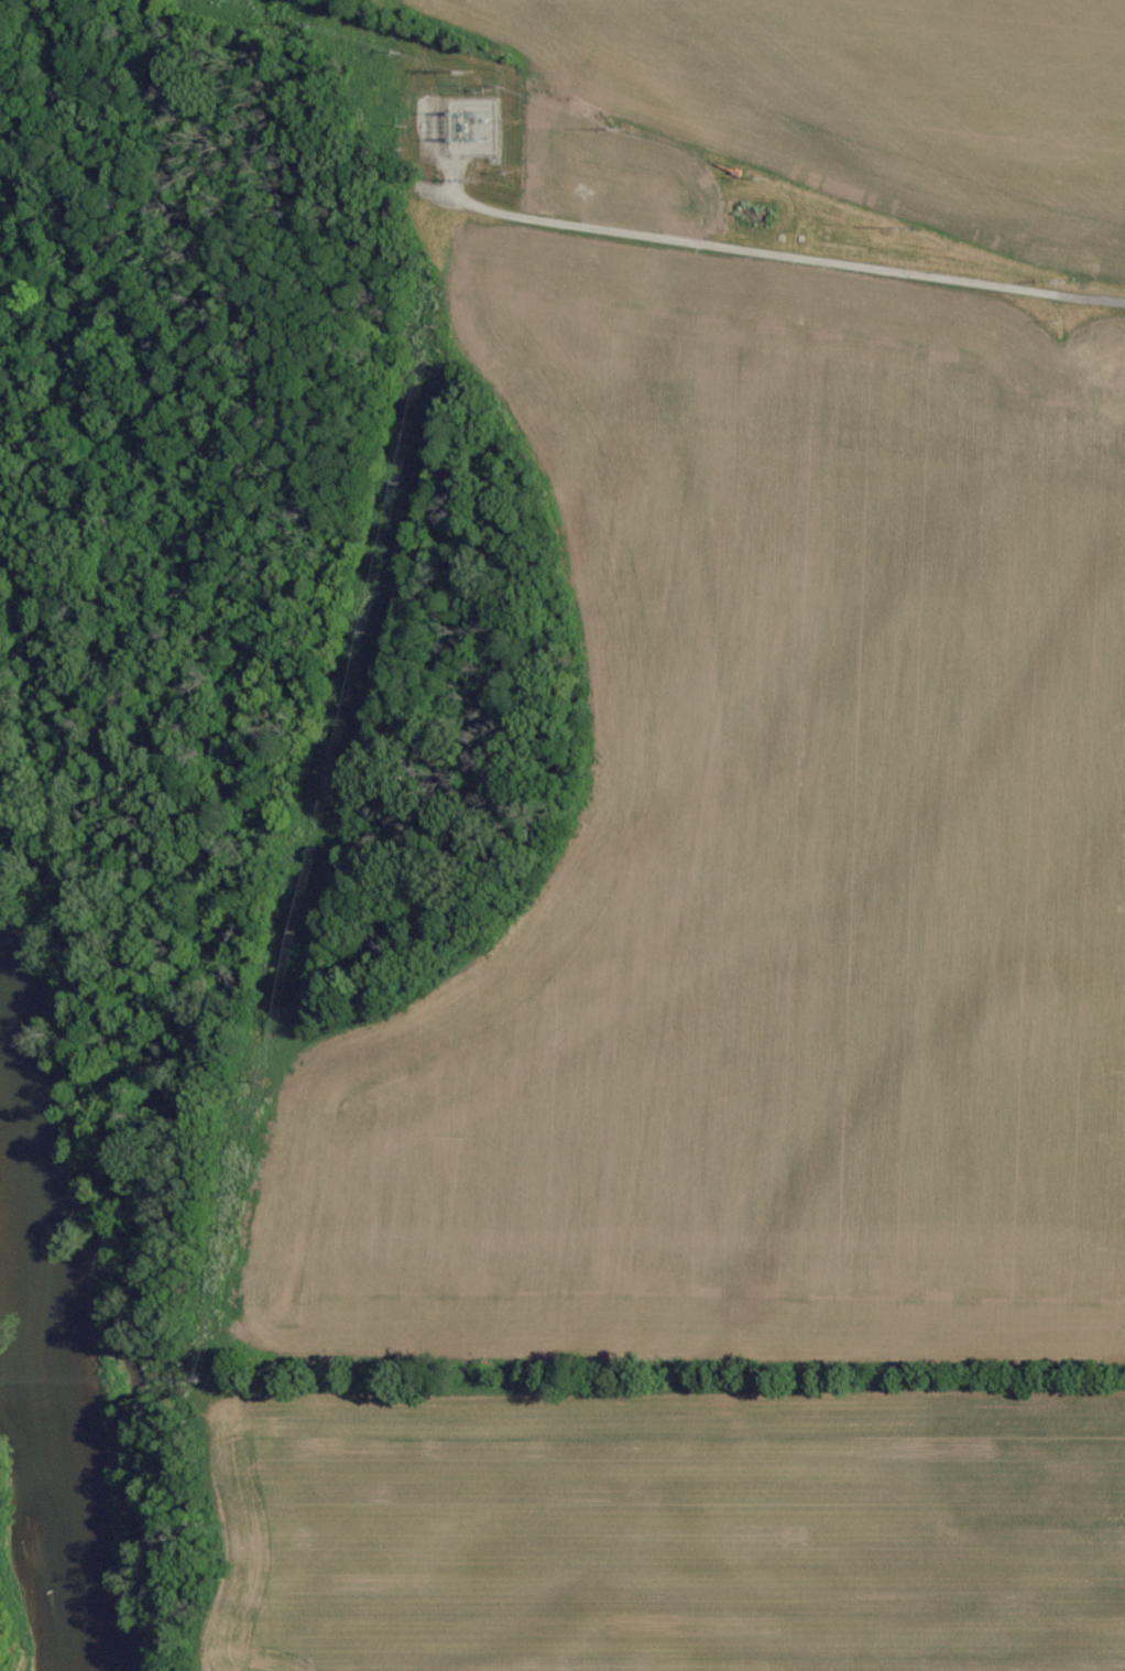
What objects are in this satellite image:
road: (773, 251)
river: (54, 1350)

